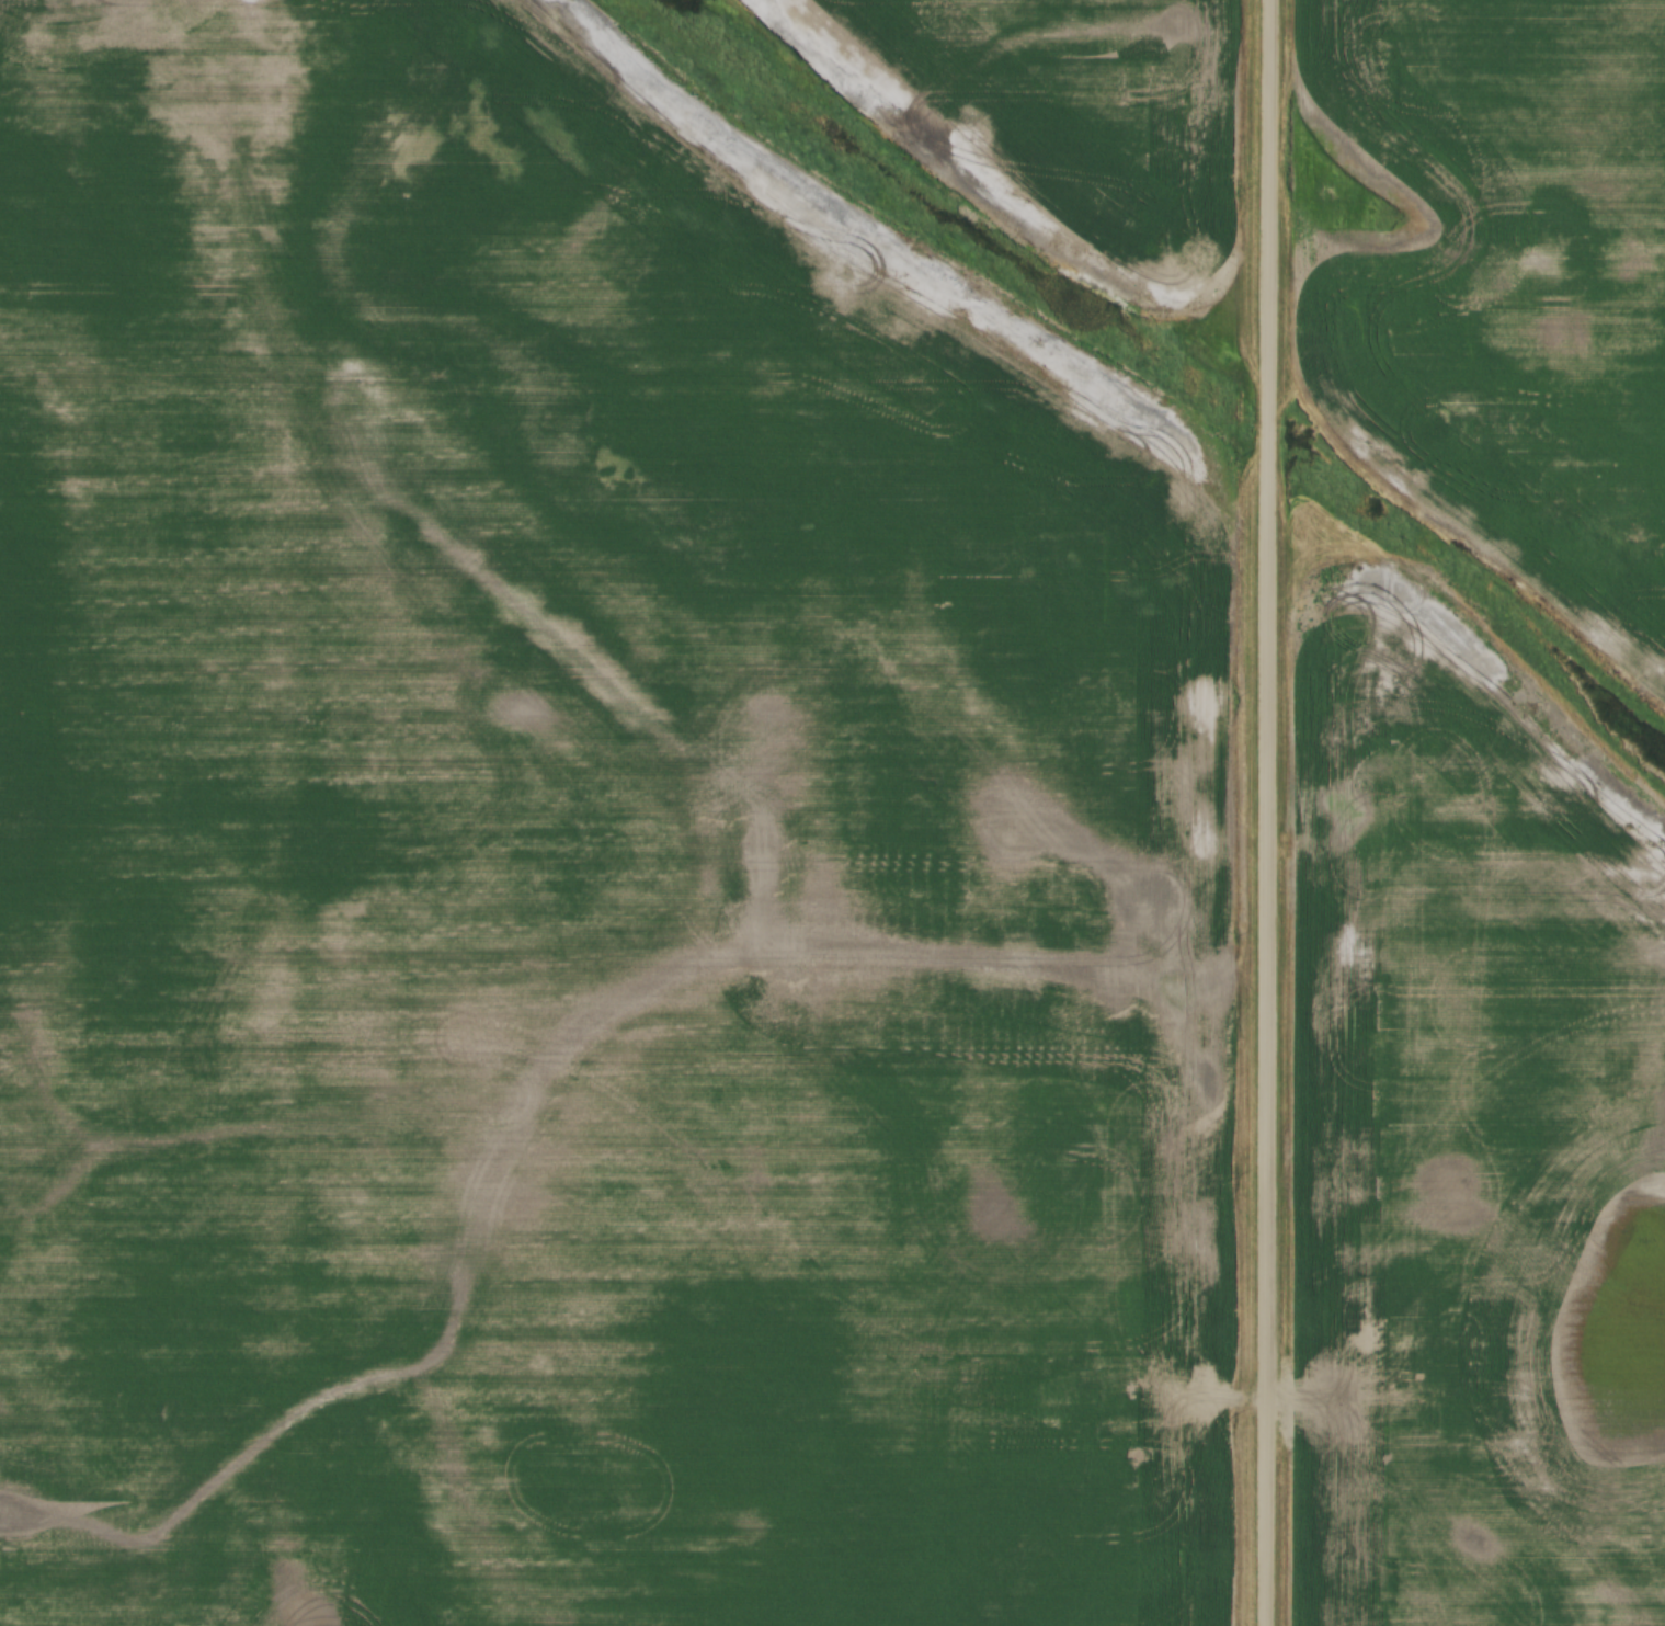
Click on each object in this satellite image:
road: (1268, 812)
building: (1242, 1467)

